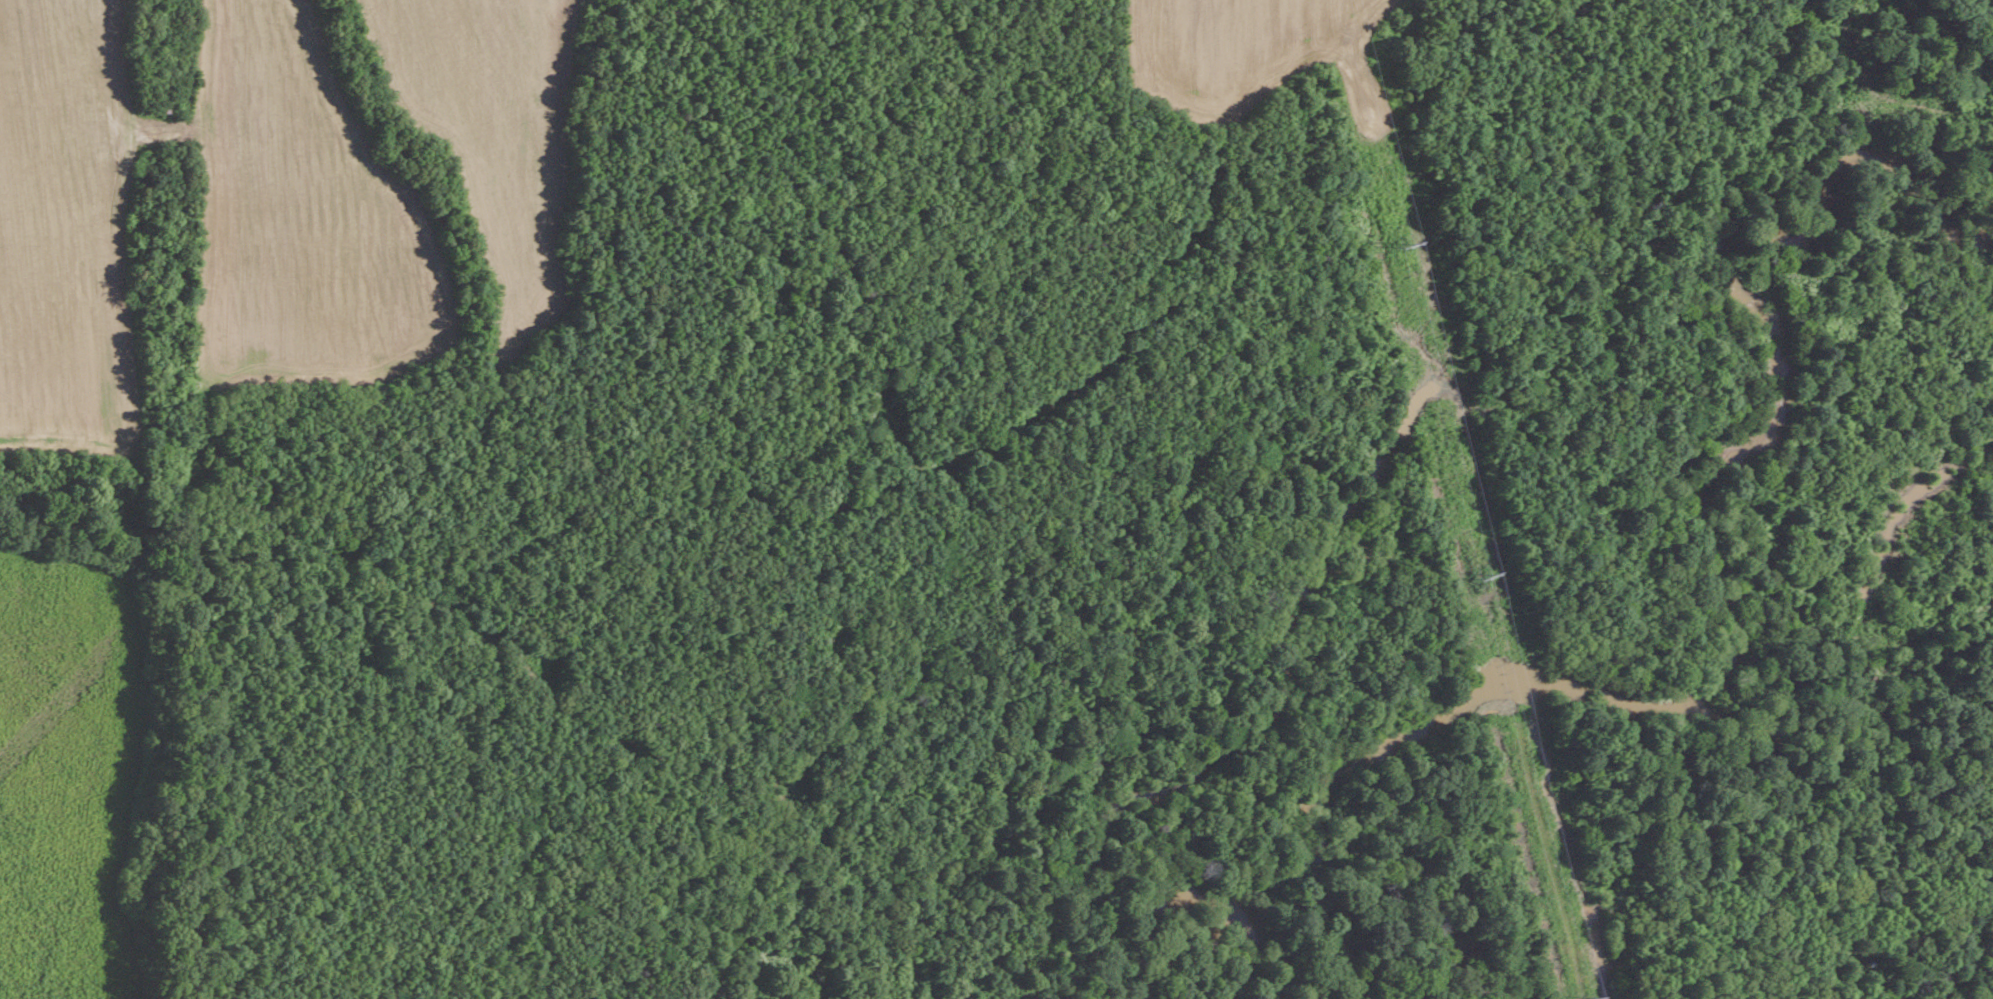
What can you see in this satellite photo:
power tower: (1403, 247)
power tower: (1482, 579)
river: (1741, 654)
power tower: (1584, 997)

